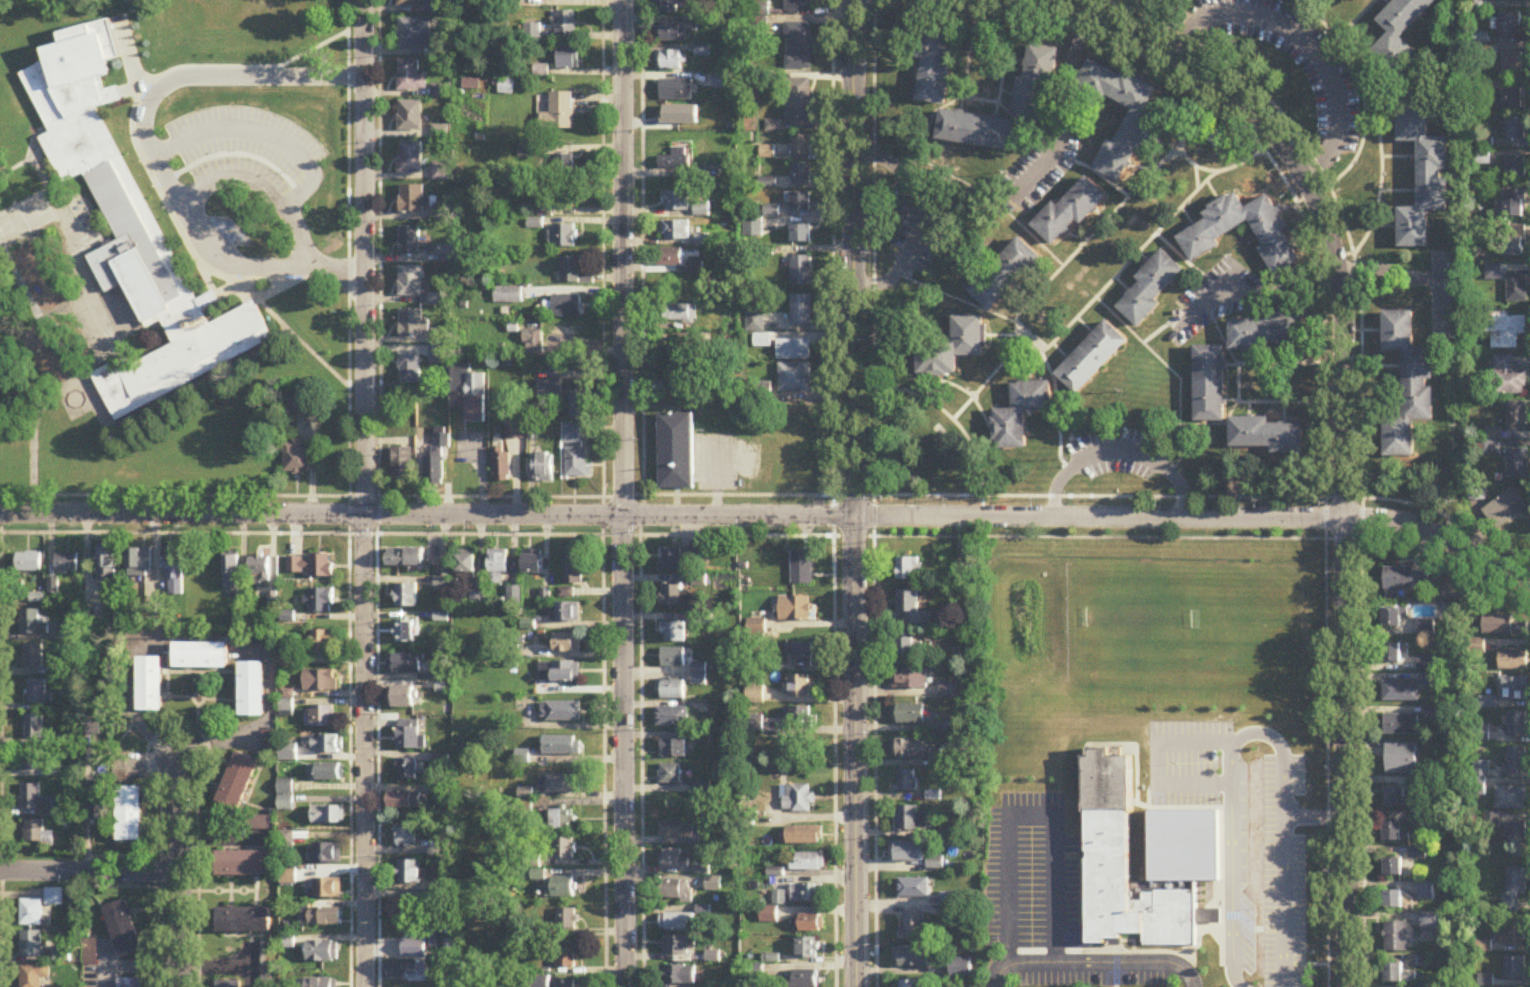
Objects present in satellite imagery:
road: (1292, 0)
building: (1508, 0)
road: (1060, 2)
building: (410, 3)
building: (798, 5)
building: (671, 6)
road: (1223, 6)
road: (1093, 7)
road: (1259, 8)
road: (1301, 14)
road: (1165, 18)
building: (565, 24)
building: (1509, 26)
road: (1345, 28)
building: (672, 33)
building: (416, 34)
building: (1400, 34)
road: (1305, 43)
building: (798, 46)
building: (568, 58)
building: (670, 61)
building: (1511, 63)
building: (933, 64)
building: (412, 76)
road: (224, 78)
building: (724, 82)
building: (1033, 84)
road: (1348, 84)
building: (678, 90)
road: (1361, 93)
road: (981, 99)
building: (1513, 99)
building: (799, 102)
building: (562, 111)
building: (718, 112)
building: (411, 116)
road: (1058, 119)
road: (1024, 120)
road: (1357, 126)
building: (1516, 128)
road: (242, 130)
building: (974, 130)
building: (1138, 130)
road: (924, 132)
building: (801, 145)
road: (1172, 156)
building: (411, 158)
building: (676, 160)
road: (1380, 161)
road: (1188, 162)
building: (566, 167)
building: (1516, 168)
road: (1092, 169)
building: (801, 174)
building: (1422, 175)
road: (237, 176)
road: (1196, 177)
building: (568, 198)
building: (412, 199)
road: (995, 201)
building: (677, 202)
building: (801, 202)
building: (1512, 205)
building: (703, 210)
building: (1069, 212)
road: (917, 220)
building: (677, 231)
building: (131, 232)
building: (1243, 232)
building: (801, 233)
building: (565, 236)
building: (410, 242)
road: (379, 248)
building: (448, 255)
building: (673, 258)
road: (1187, 262)
road: (335, 268)
road: (1388, 271)
building: (801, 272)
building: (574, 273)
building: (1492, 273)
building: (1004, 275)
building: (411, 282)
building: (1151, 287)
building: (1516, 289)
road: (1276, 291)
road: (1438, 293)
building: (510, 296)
road: (1211, 296)
road: (973, 305)
building: (568, 307)
building: (801, 310)
building: (680, 315)
building: (754, 322)
building: (411, 323)
road: (1159, 328)
building: (1504, 329)
building: (1269, 334)
road: (1324, 336)
building: (762, 342)
building: (535, 343)
road: (1020, 346)
building: (952, 349)
building: (793, 350)
building: (684, 358)
building: (1091, 358)
road: (1255, 363)
building: (410, 367)
road: (1171, 371)
building: (1509, 378)
building: (795, 379)
road: (985, 381)
road: (1238, 382)
building: (1210, 384)
building: (1408, 385)
building: (551, 390)
building: (470, 393)
road: (1255, 401)
building: (578, 404)
building: (300, 408)
road: (1055, 409)
building: (1020, 414)
building: (1517, 416)
road: (950, 417)
road: (1343, 417)
road: (1361, 433)
building: (573, 435)
building: (1267, 435)
building: (1491, 439)
road: (1118, 450)
building: (677, 452)
building: (436, 458)
building: (296, 459)
building: (577, 462)
building: (1517, 463)
building: (404, 464)
building: (502, 466)
building: (544, 467)
road: (349, 493)
road: (364, 493)
road: (603, 493)
road: (623, 493)
road: (643, 493)
road: (832, 493)
road: (853, 493)
road: (873, 493)
building: (1477, 493)
road: (771, 494)
building: (1505, 509)
road: (771, 514)
road: (772, 535)
building: (406, 558)
building: (674, 561)
building: (29, 563)
building: (67, 563)
building: (106, 563)
building: (140, 563)
building: (533, 563)
building: (466, 565)
building: (310, 567)
building: (498, 567)
building: (802, 568)
building: (573, 569)
building: (910, 570)
building: (259, 571)
building: (175, 572)
building: (232, 574)
building: (963, 574)
building: (1406, 580)
building: (406, 596)
building: (673, 596)
building: (320, 601)
building: (568, 609)
building: (795, 610)
building: (911, 610)
building: (1395, 619)
building: (32, 624)
building: (1502, 627)
building: (405, 632)
building: (673, 633)
building: (934, 638)
building: (322, 643)
building: (567, 644)
building: (906, 649)
building: (1393, 654)
building: (800, 655)
building: (201, 657)
building: (33, 658)
building: (673, 658)
building: (1512, 661)
building: (405, 664)
building: (560, 673)
building: (1429, 673)
building: (910, 680)
building: (320, 682)
building: (150, 685)
building: (798, 688)
building: (1513, 690)
building: (252, 691)
building: (672, 691)
building: (1400, 692)
building: (37, 693)
road: (131, 697)
building: (401, 698)
building: (289, 709)
building: (561, 712)
building: (909, 715)
building: (672, 717)
building: (323, 718)
building: (799, 719)
road: (267, 721)
building: (752, 725)
building: (1401, 725)
building: (1517, 725)
road: (178, 726)
building: (34, 727)
building: (410, 737)
road: (1, 740)
road: (377, 741)
building: (327, 745)
building: (562, 746)
building: (673, 749)
building: (912, 750)
road: (1281, 750)
road: (1159, 759)
building: (29, 760)
building: (1401, 760)
building: (1516, 760)
building: (406, 771)
building: (326, 773)
building: (670, 775)
building: (238, 782)
building: (907, 782)
building: (560, 784)
building: (443, 794)
building: (286, 796)
building: (1397, 798)
building: (799, 799)
building: (1511, 799)
building: (35, 802)
building: (98, 802)
building: (405, 802)
road: (1314, 814)
building: (130, 815)
building: (327, 816)
road: (1027, 816)
building: (909, 819)
building: (563, 821)
building: (1108, 824)
building: (676, 830)
building: (36, 833)
building: (1395, 833)
building: (1516, 833)
building: (405, 836)
building: (805, 836)
building: (564, 849)
building: (907, 852)
building: (327, 854)
road: (128, 856)
building: (676, 860)
building: (809, 862)
building: (243, 865)
building: (1393, 867)
road: (1232, 869)
road: (89, 870)
road: (179, 873)
building: (408, 873)
building: (714, 885)
road: (124, 886)
building: (560, 888)
building: (1515, 888)
building: (327, 889)
building: (914, 889)
building: (676, 890)
building: (1426, 891)
building: (806, 893)
building: (55, 897)
building: (780, 898)
building: (1393, 900)
road: (1284, 901)
building: (401, 909)
building: (31, 913)
building: (321, 918)
building: (567, 920)
building: (243, 921)
building: (678, 922)
building: (1429, 923)
building: (808, 924)
building: (913, 927)
building: (123, 930)
building: (1514, 936)
building: (1396, 938)
building: (31, 945)
building: (677, 946)
building: (413, 949)
building: (807, 949)
building: (321, 953)
building: (566, 958)
building: (914, 958)
road: (1159, 961)
road: (1044, 962)
building: (1419, 963)
building: (1514, 969)
building: (403, 971)
building: (33, 975)
building: (680, 975)
building: (1397, 975)
building: (803, 979)
building: (322, 983)
building: (131, 984)
building: (565, 984)
building: (910, 984)
building: (229, 985)

